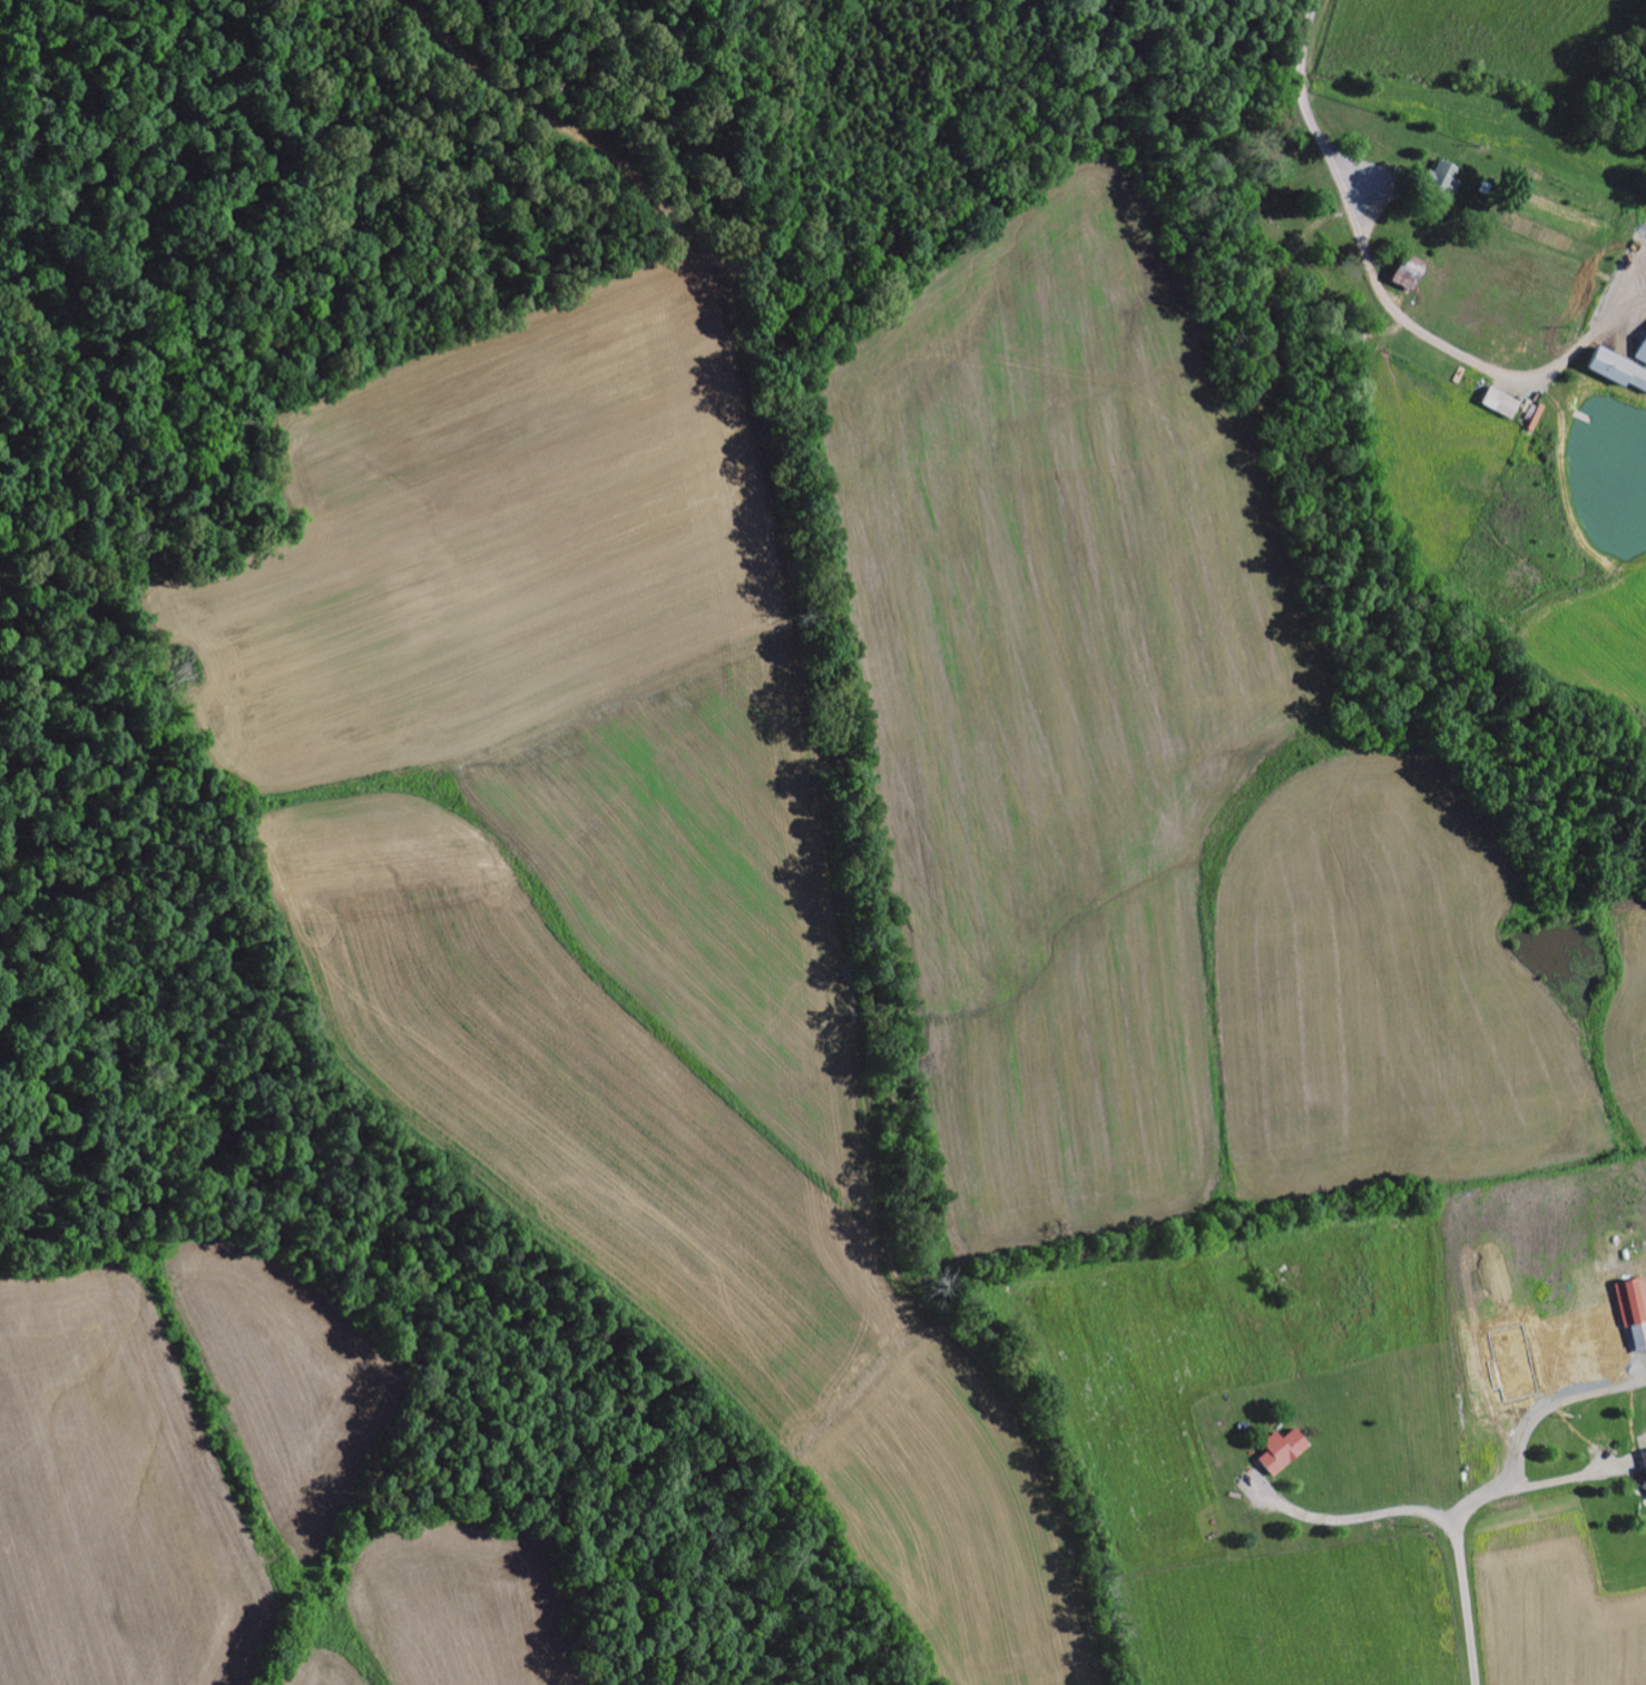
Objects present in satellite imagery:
road: (1304, 94)
building: (1443, 180)
building: (1408, 275)
building: (1640, 360)
building: (1618, 371)
building: (1501, 403)
building: (1634, 1311)
building: (1283, 1452)
building: (1644, 1460)
building: (1643, 1483)
road: (1467, 1606)

